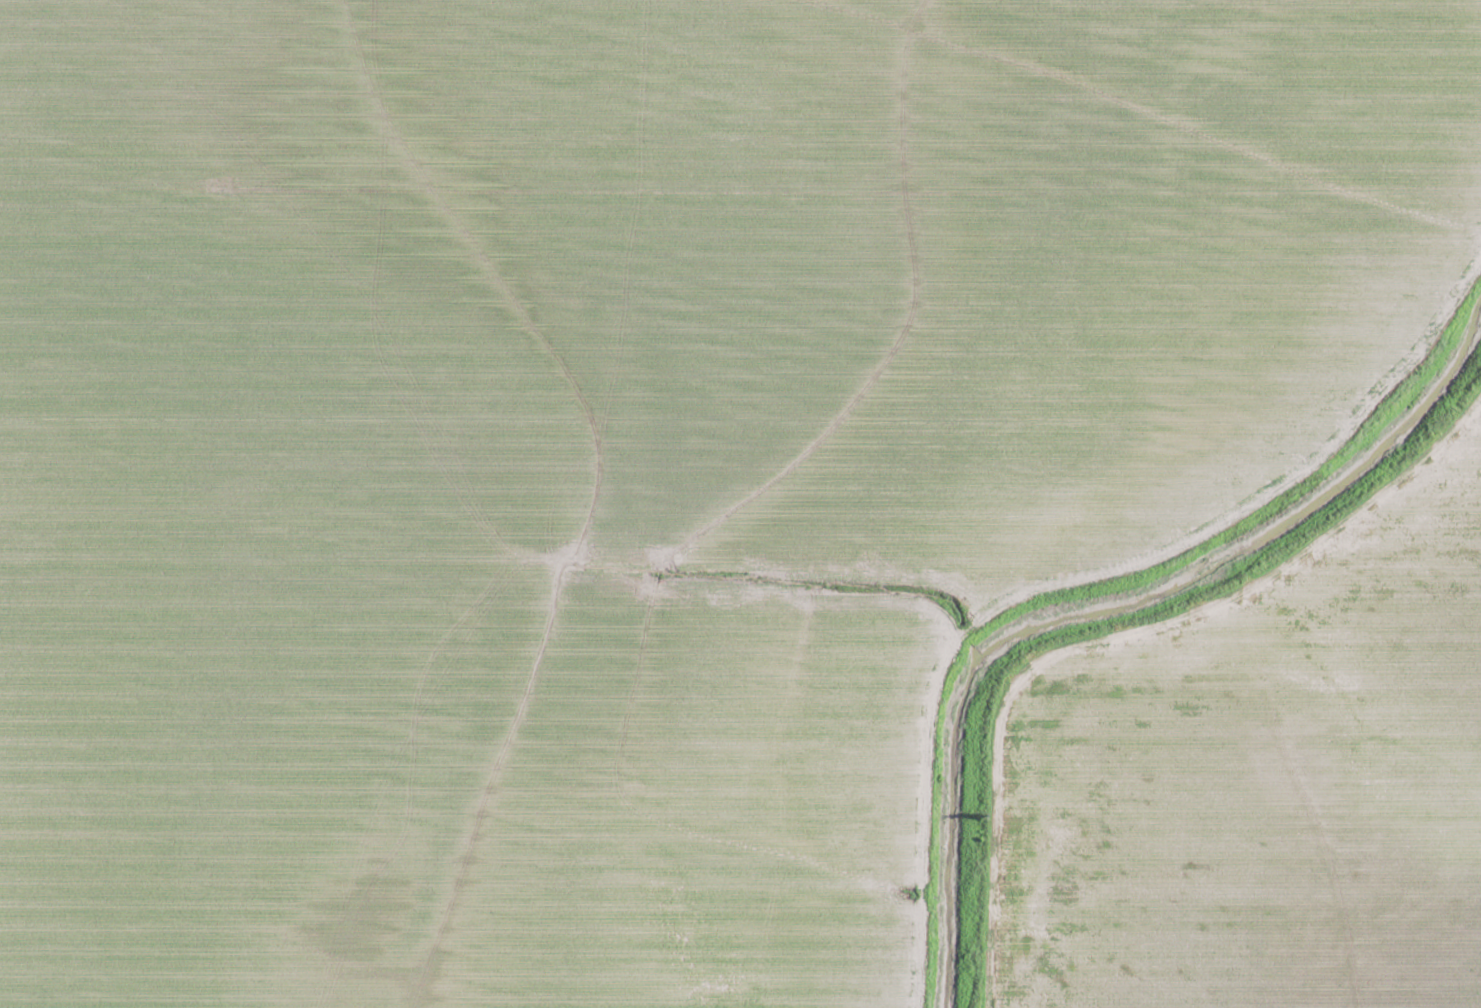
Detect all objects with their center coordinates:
road: (1128, 643)

